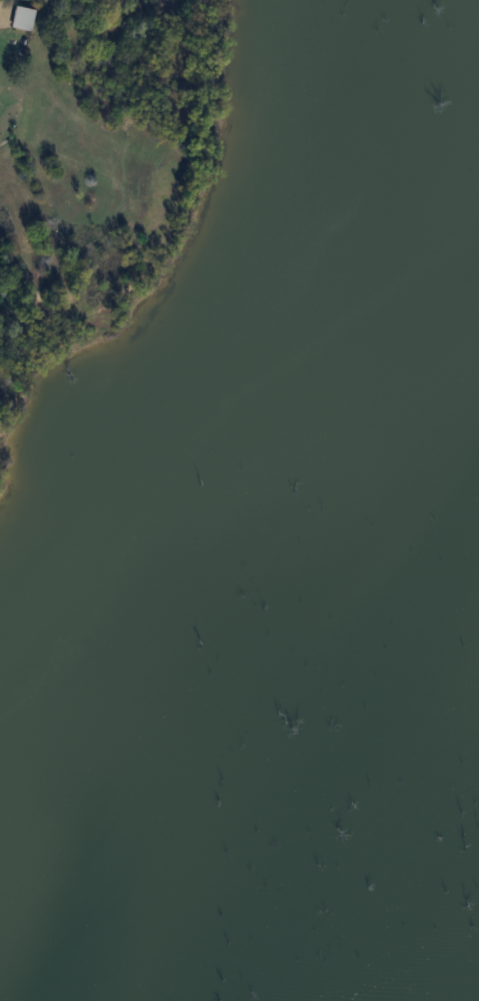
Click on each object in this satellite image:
road: (4, 0)
parking lot: (3, 8)
building: (19, 12)
building: (26, 18)

